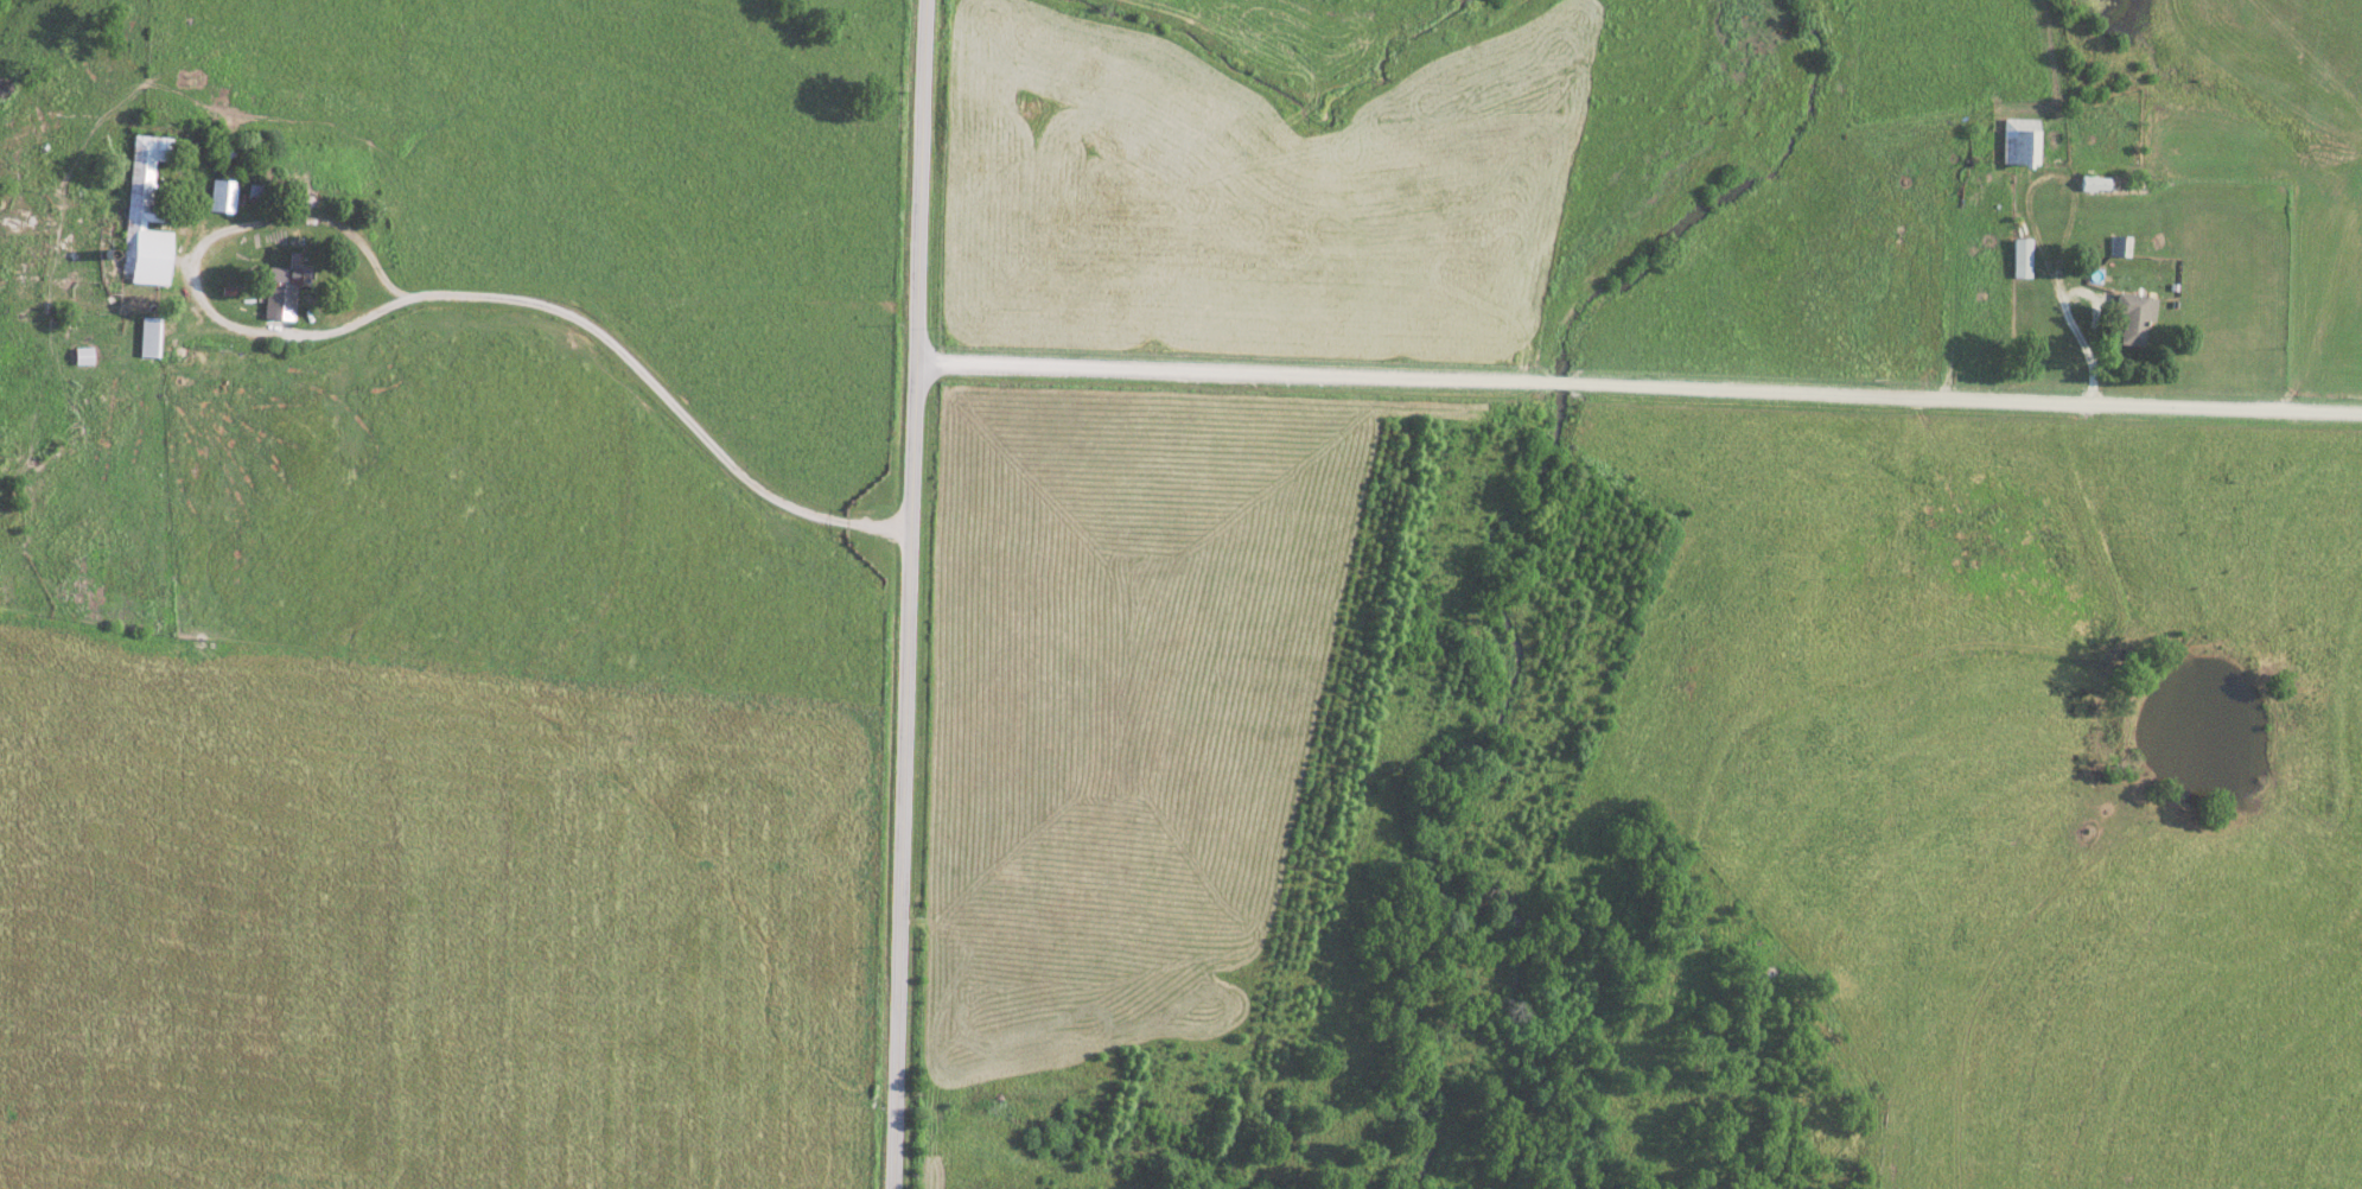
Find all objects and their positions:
building: (2022, 141)
building: (259, 190)
building: (223, 195)
building: (147, 214)
building: (2022, 256)
road: (2056, 279)
building: (287, 286)
road: (205, 316)
building: (2134, 319)
building: (116, 339)
road: (660, 390)
road: (1637, 393)
road: (906, 593)

